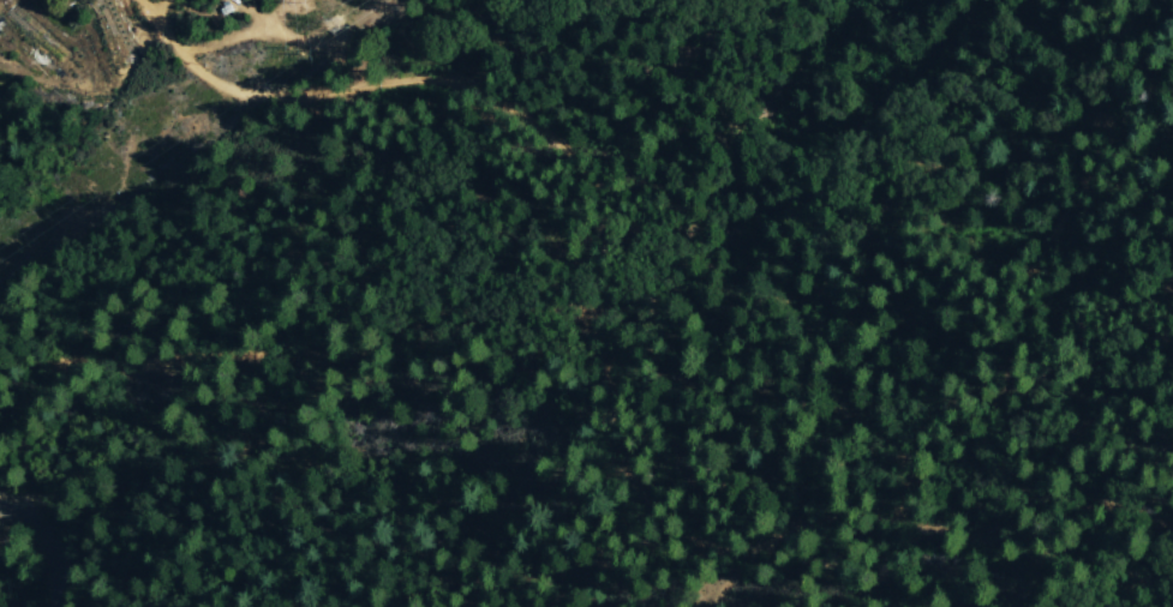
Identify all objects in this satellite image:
power tower: (306, 7)
power tower: (341, 30)
road: (49, 543)

